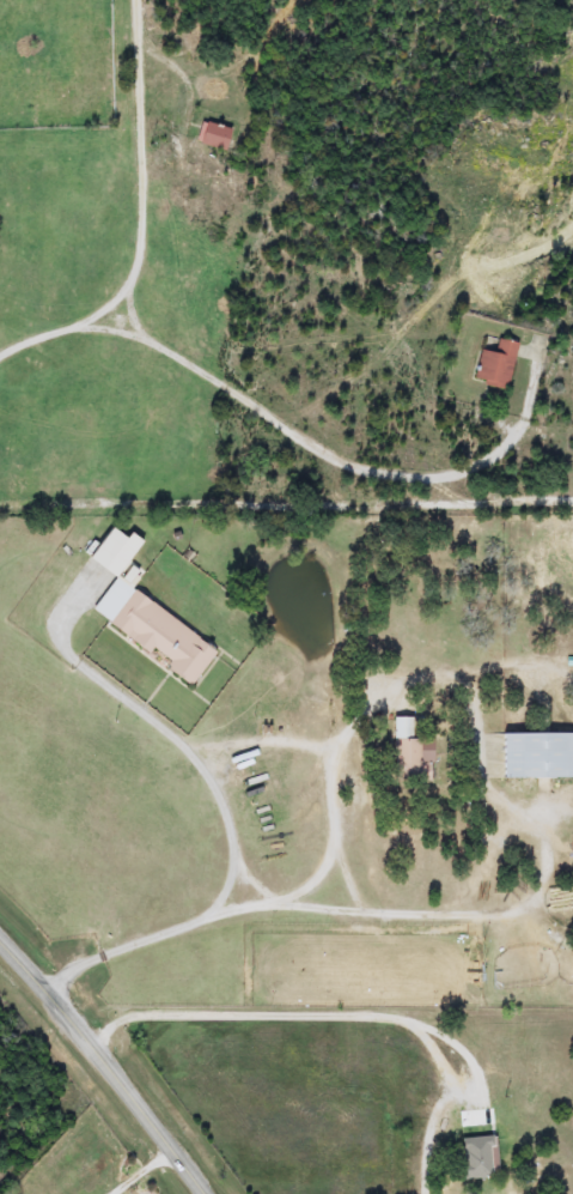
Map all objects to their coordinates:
building: (214, 138)
road: (145, 218)
building: (495, 363)
road: (339, 449)
building: (146, 614)
road: (175, 732)
building: (408, 748)
building: (538, 756)
road: (340, 908)
road: (339, 1042)
road: (106, 1063)
road: (135, 1168)

